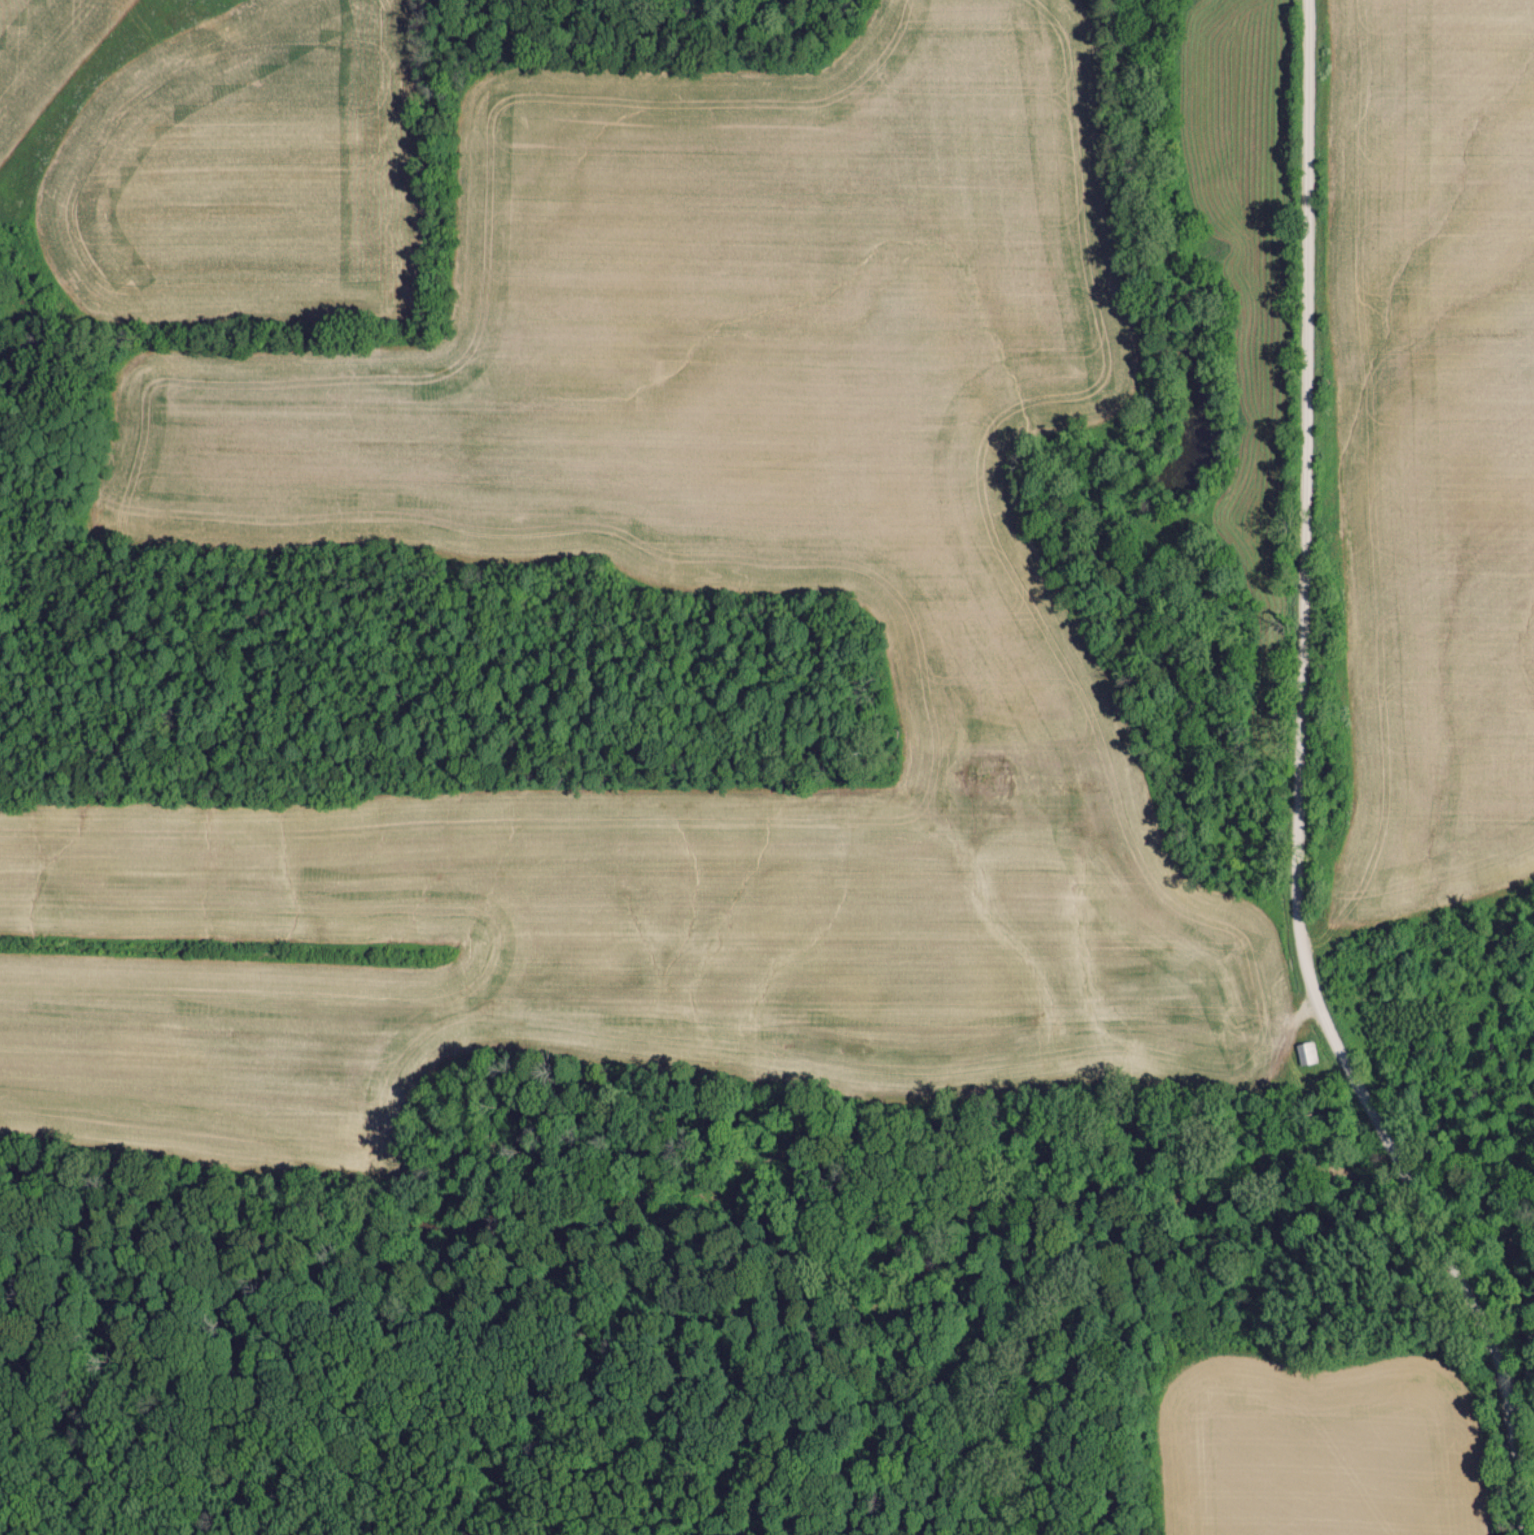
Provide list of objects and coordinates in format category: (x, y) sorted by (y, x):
road: (1290, 792)
building: (1305, 1051)

